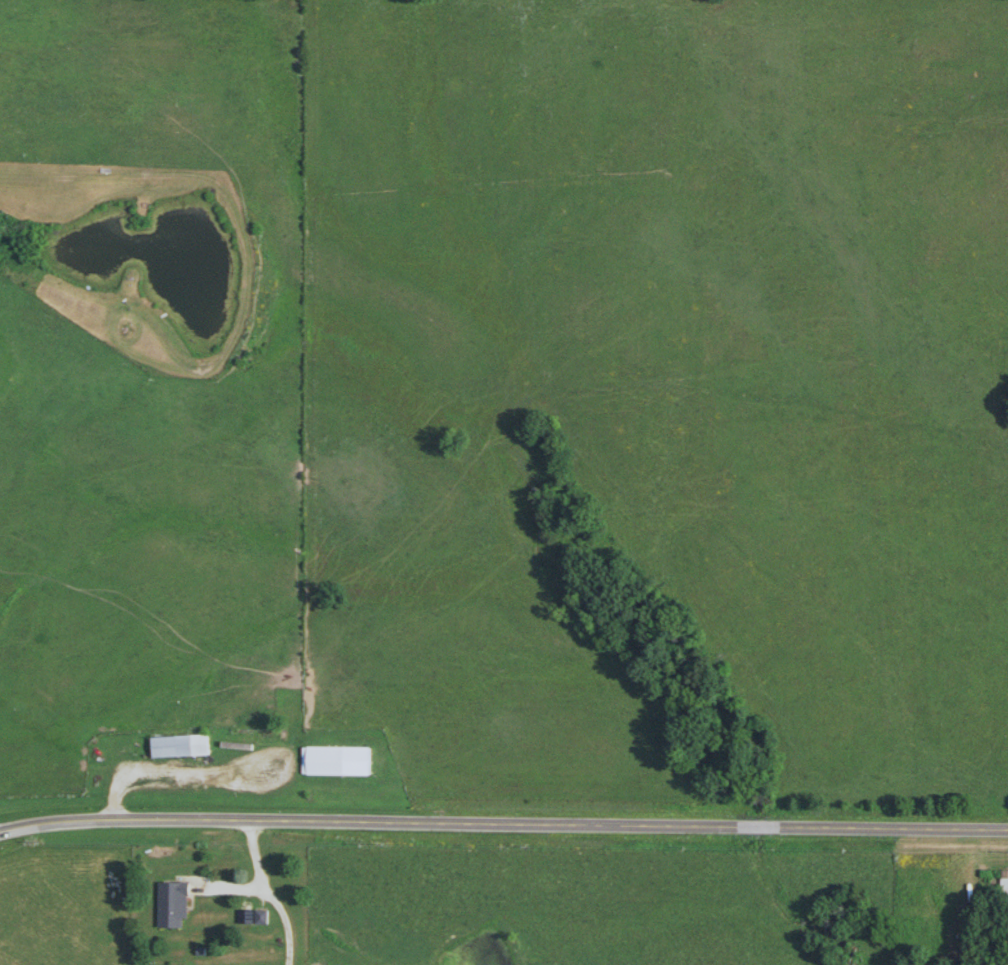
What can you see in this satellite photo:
building: (179, 747)
building: (337, 761)
road: (179, 773)
road: (503, 822)
road: (281, 889)
building: (172, 905)

